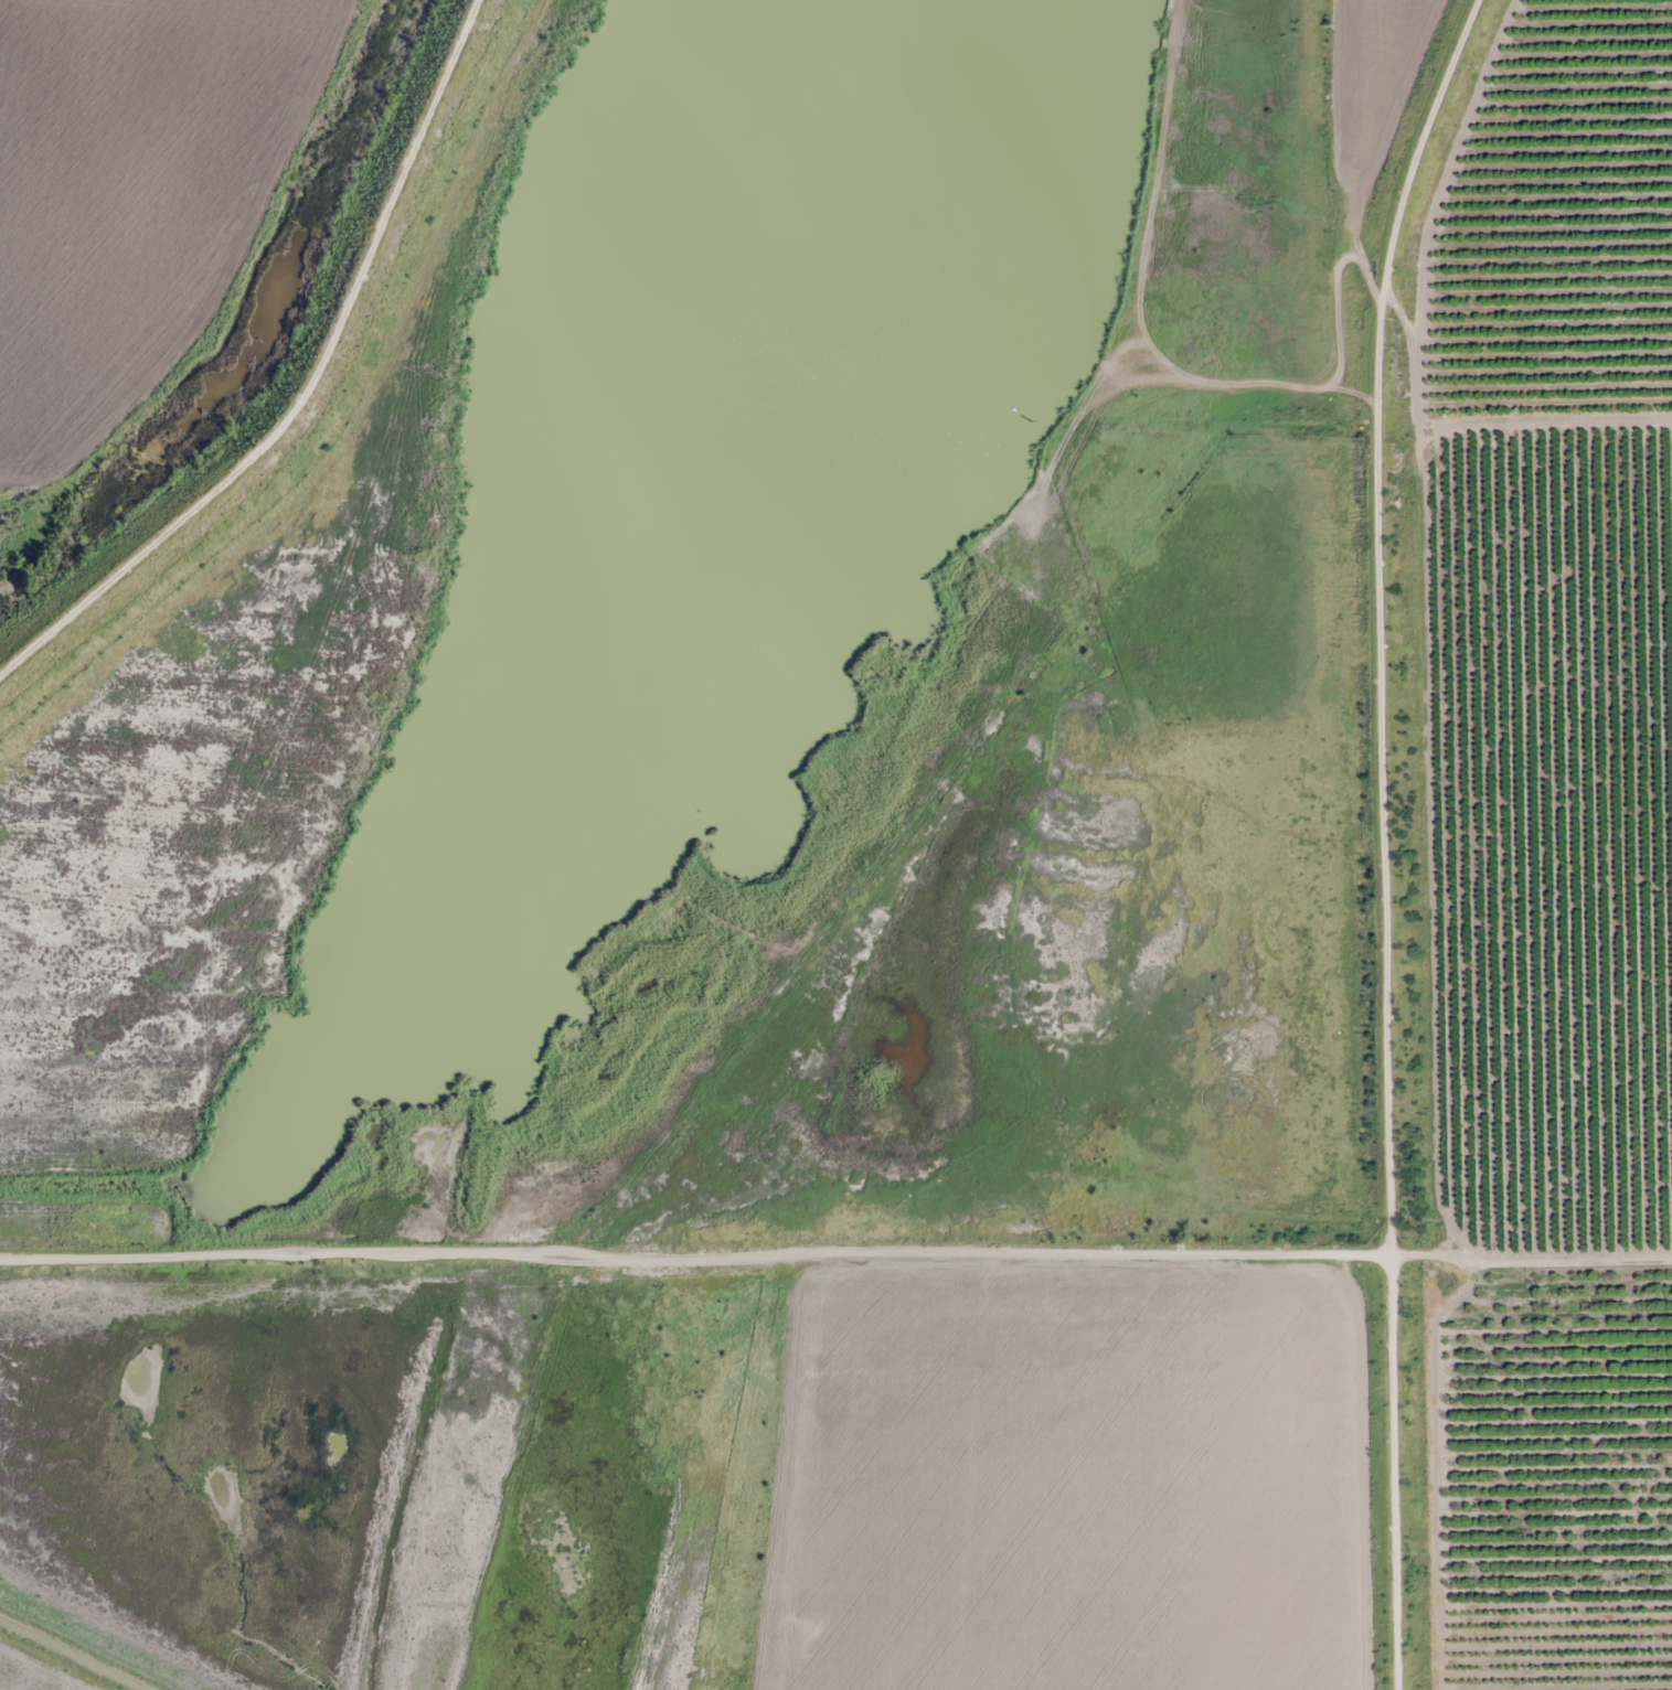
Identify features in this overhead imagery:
building: (0, 267)
building: (0, 291)
building: (3, 308)
road: (297, 387)
road: (1404, 844)
road: (835, 1236)

